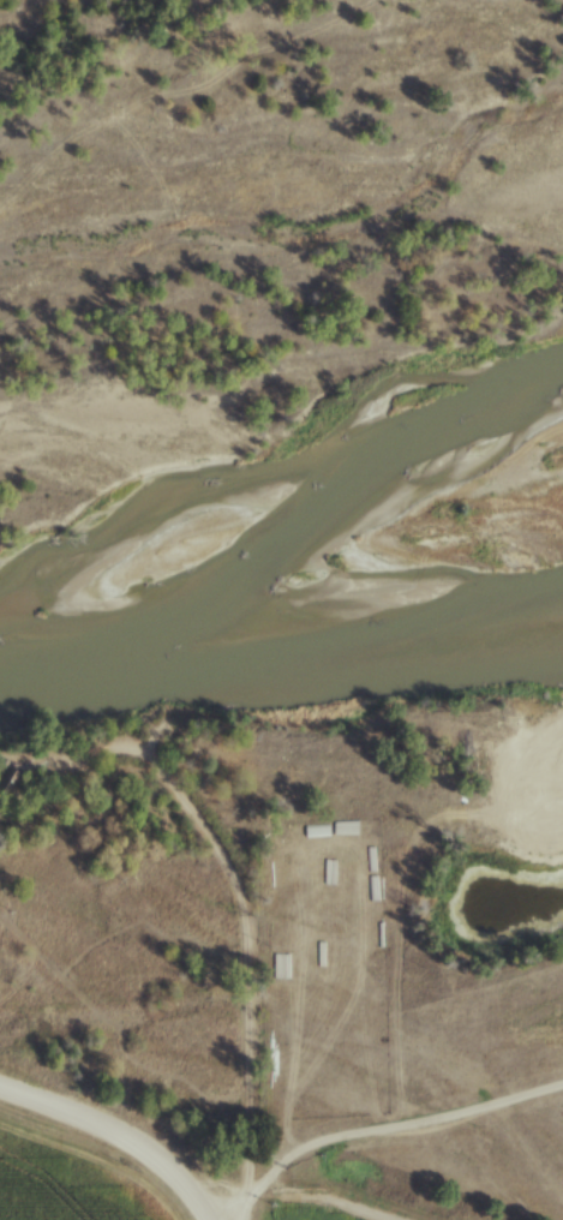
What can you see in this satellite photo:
river: (281, 642)
building: (6, 782)
road: (173, 782)
building: (322, 872)
road: (248, 1089)
road: (397, 1130)
road: (121, 1136)
road: (221, 1219)

